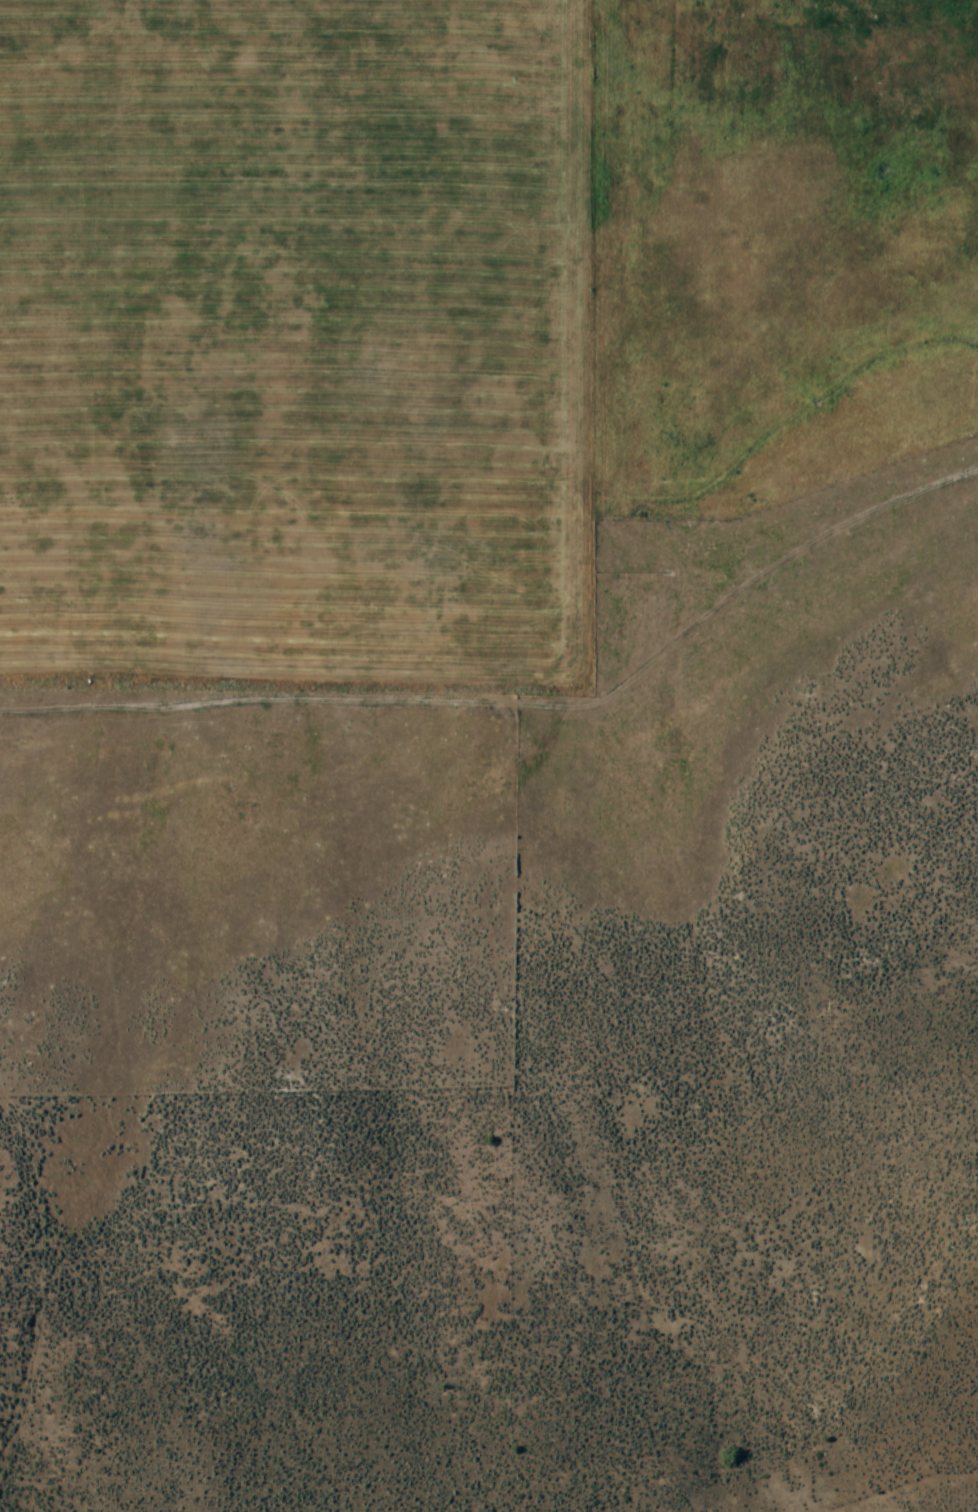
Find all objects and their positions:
road: (903, 1488)

